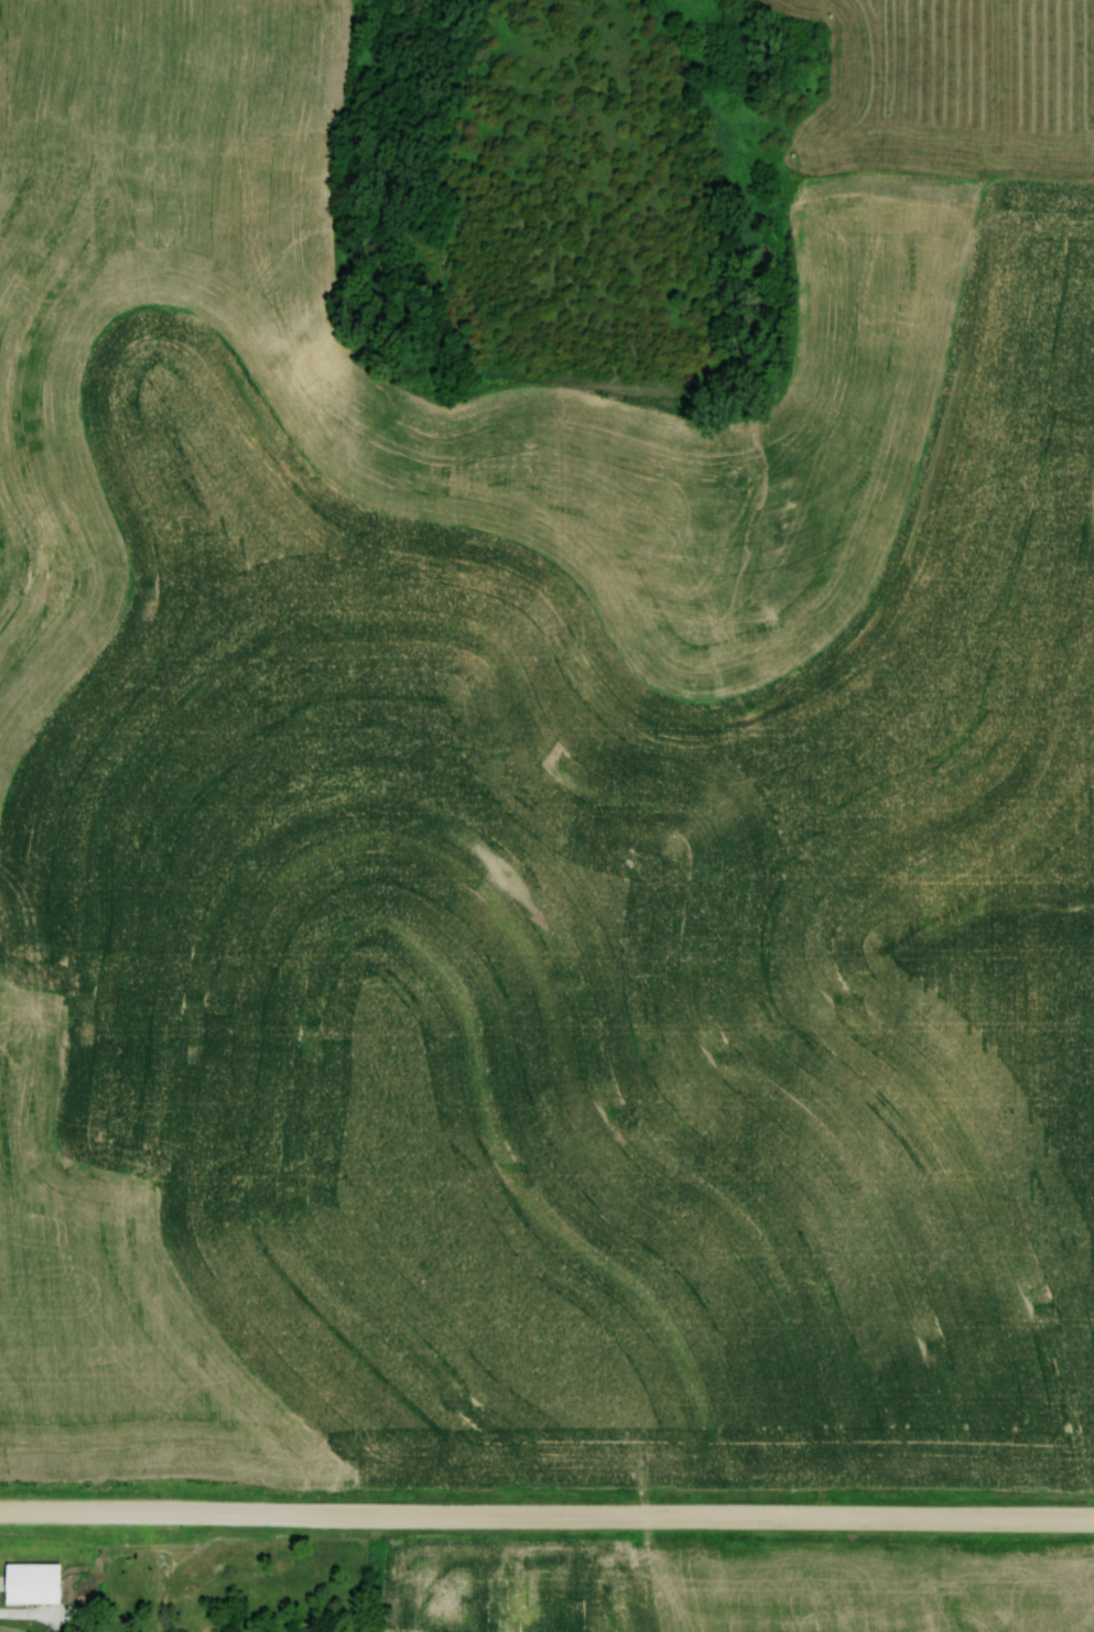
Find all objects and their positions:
road: (546, 1513)
building: (41, 1582)

